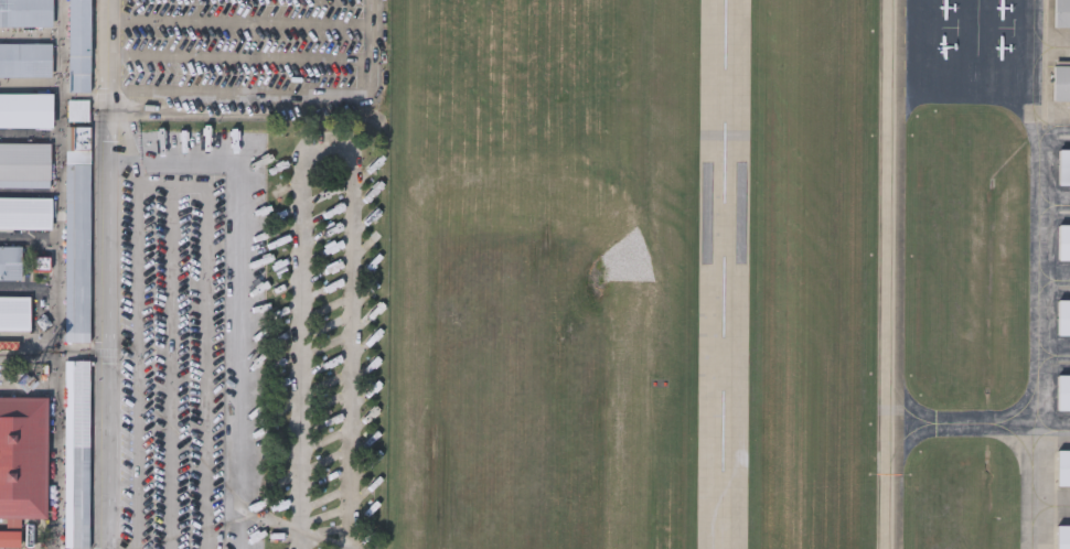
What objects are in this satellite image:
building: (25, 12)
building: (1061, 13)
road: (375, 45)
building: (77, 46)
airport apron: (970, 57)
building: (24, 58)
building: (1061, 82)
road: (243, 90)
building: (25, 109)
building: (77, 109)
road: (330, 141)
building: (24, 163)
building: (1063, 165)
building: (24, 212)
building: (76, 233)
building: (1063, 240)
building: (10, 261)
road: (107, 273)
parking lot: (249, 273)
road: (60, 274)
airport: (727, 274)
airport runway: (728, 274)
building: (13, 312)
road: (244, 314)
building: (1062, 315)
airport taxiway: (899, 332)
road: (30, 345)
road: (83, 346)
building: (1062, 390)
building: (75, 453)
building: (22, 455)
building: (1062, 466)
building: (1062, 536)
building: (17, 537)

